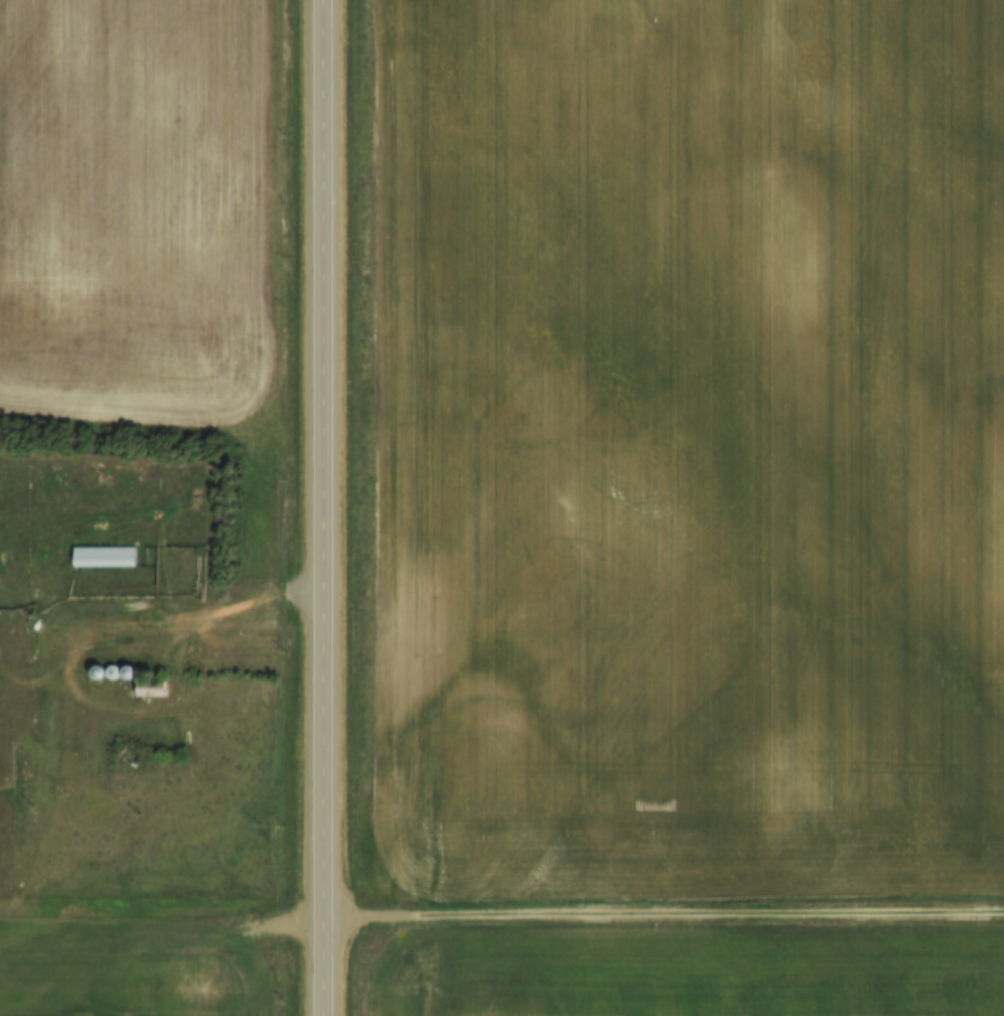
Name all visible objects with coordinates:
road: (324, 507)
building: (106, 556)
road: (78, 644)
building: (116, 672)
building: (155, 688)
road: (501, 914)

